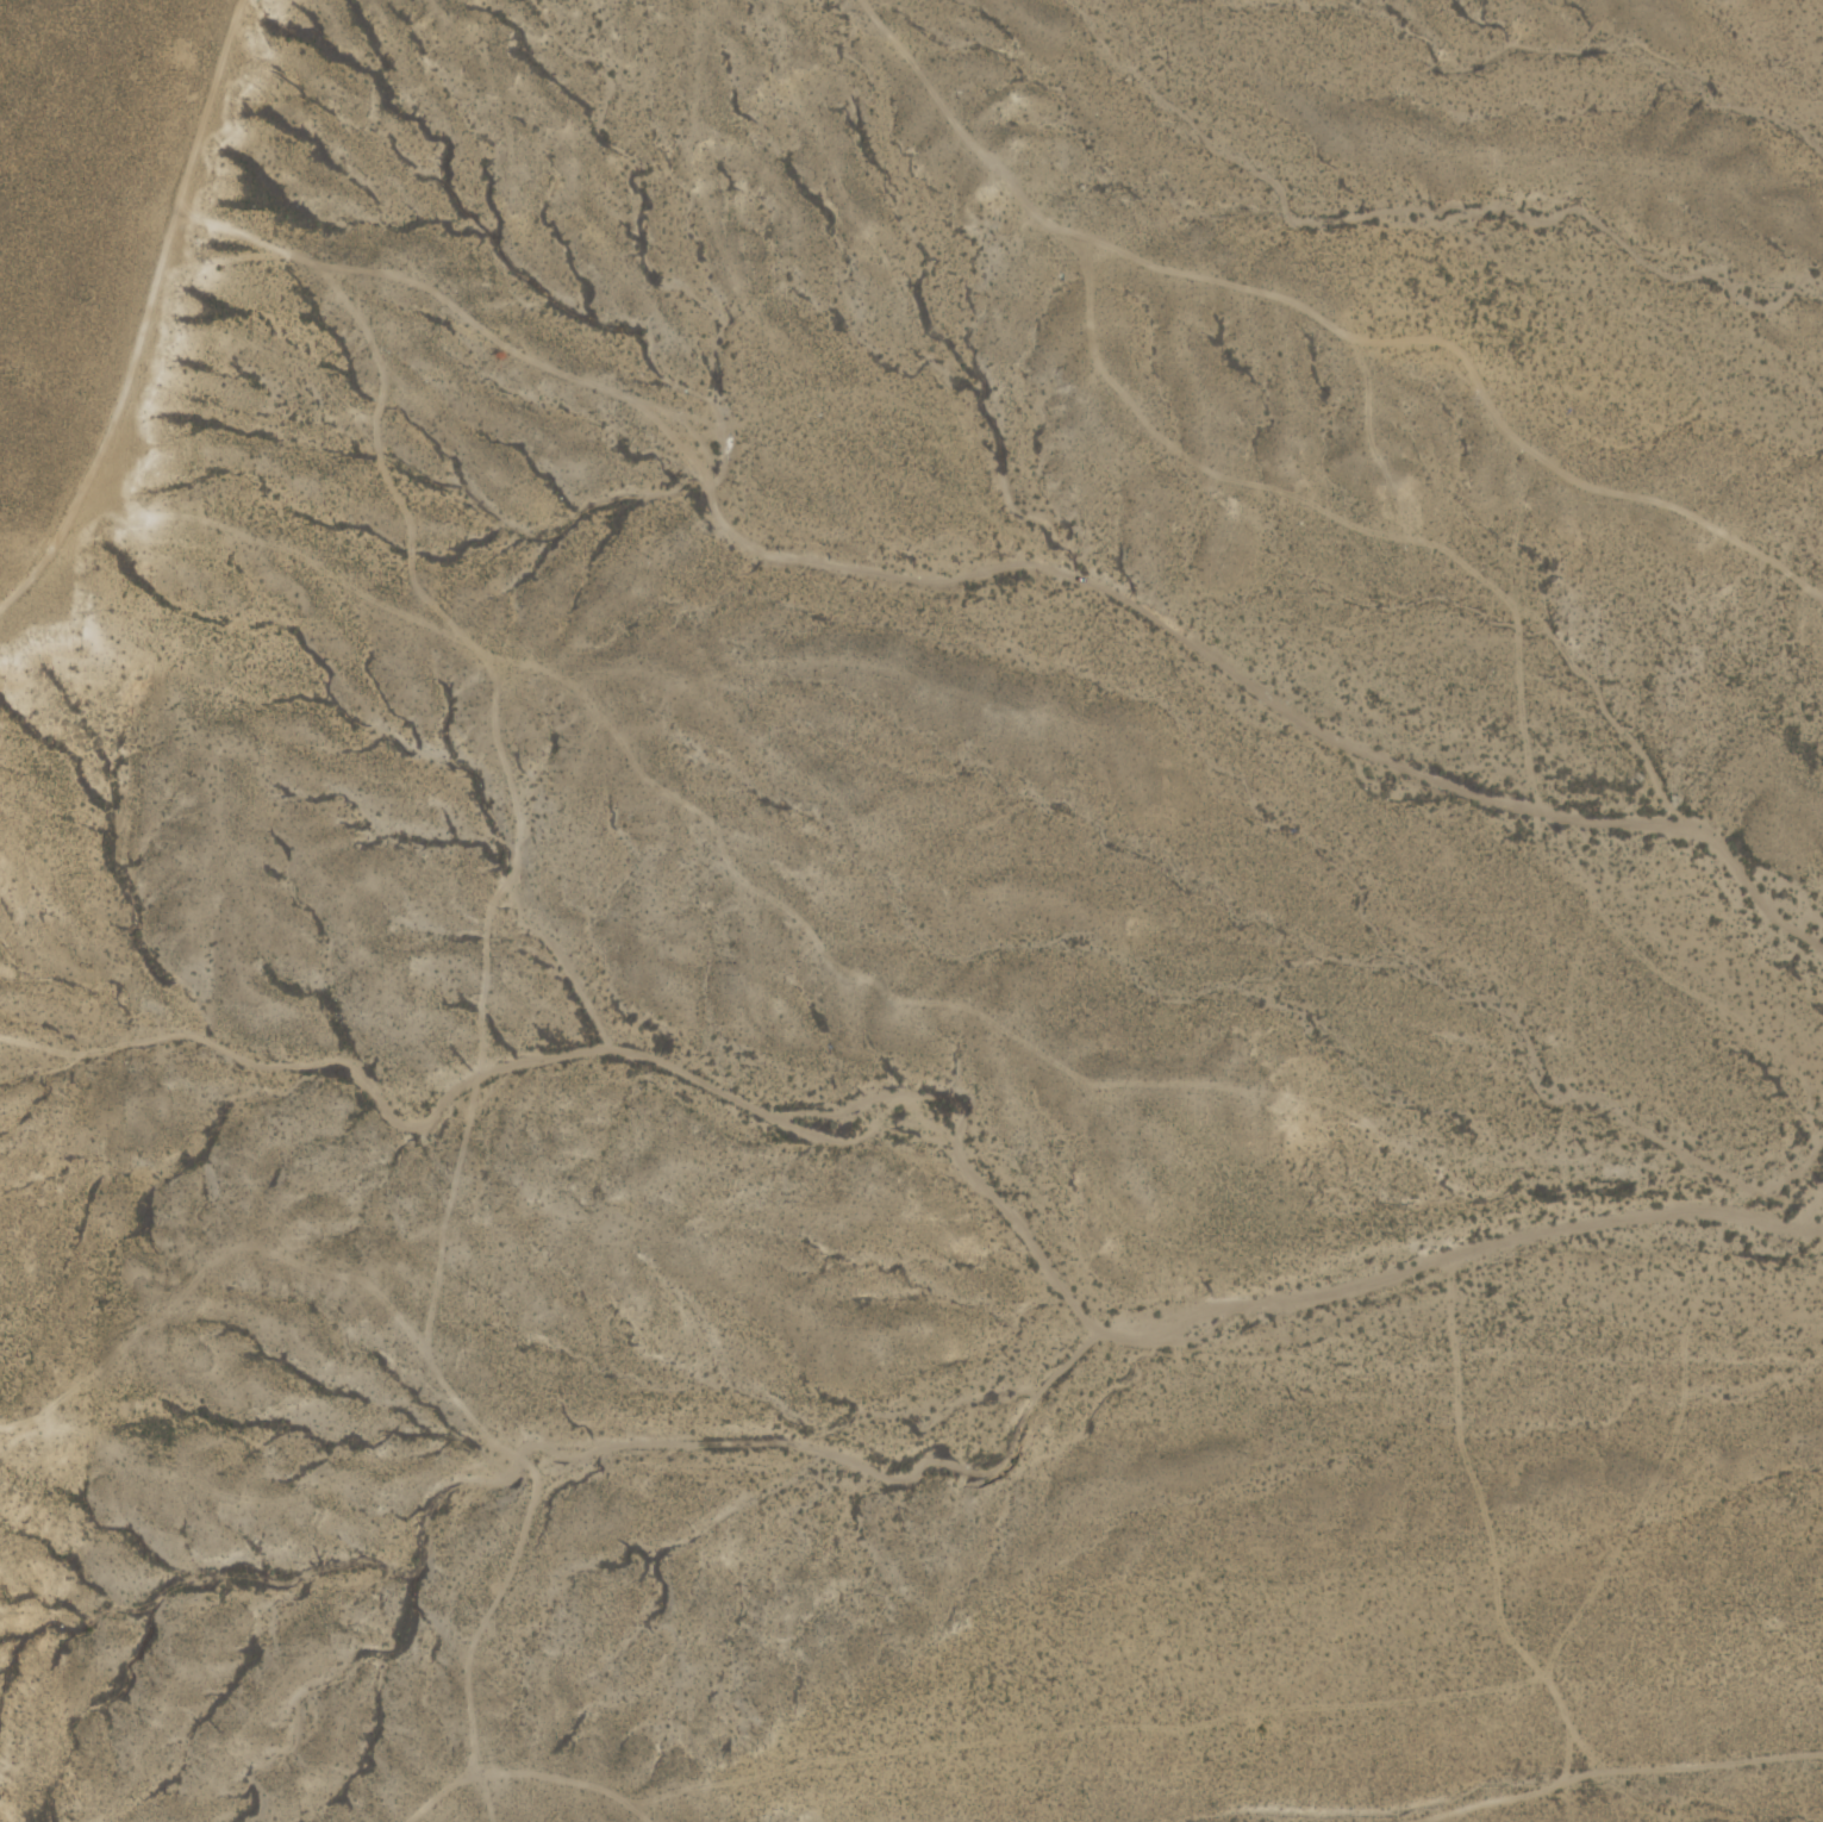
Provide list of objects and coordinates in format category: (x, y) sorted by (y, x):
road: (151, 317)

